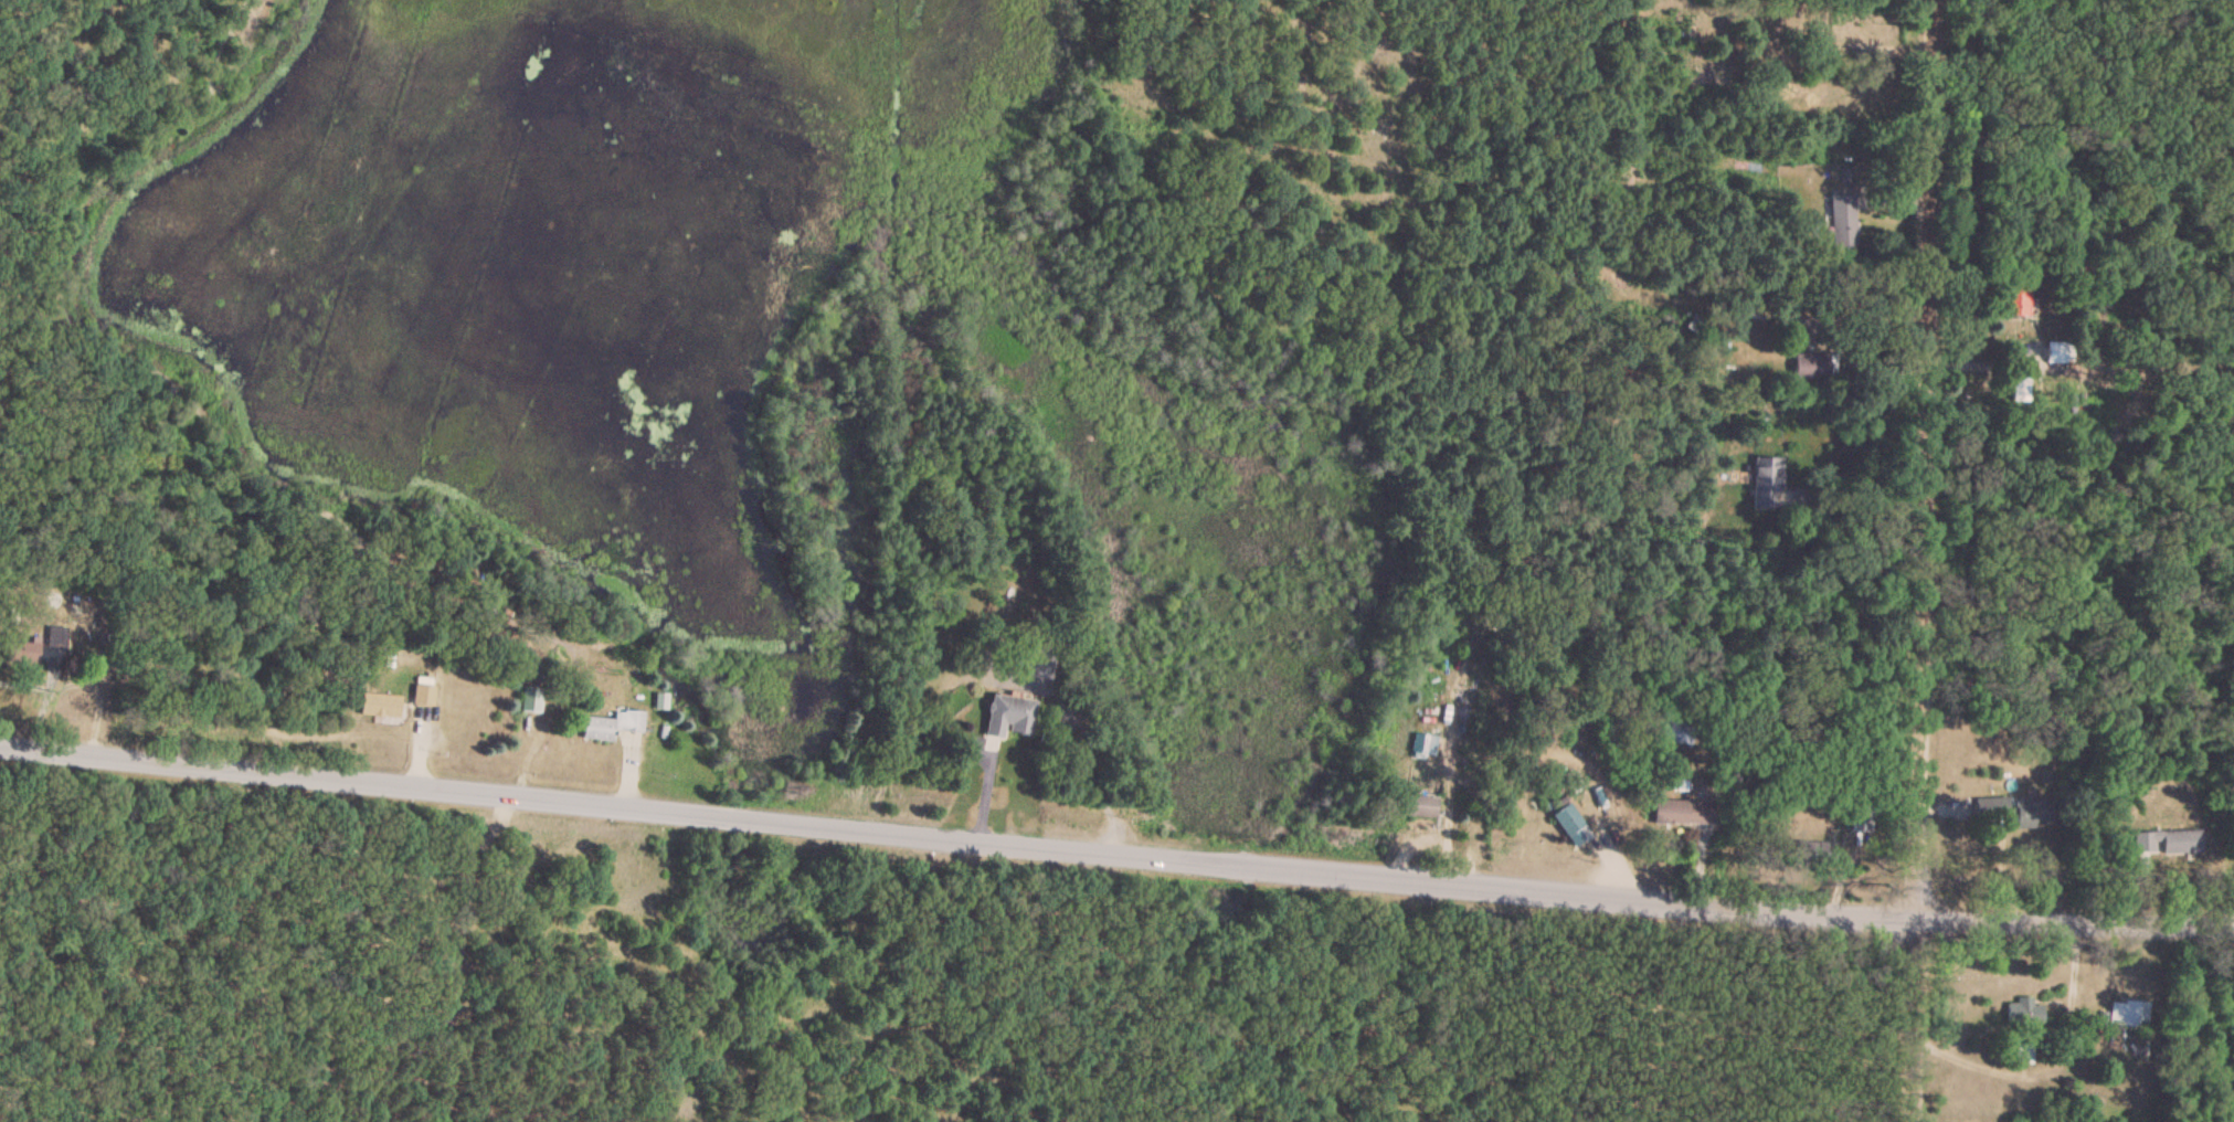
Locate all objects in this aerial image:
building: (1789, 83)
building: (1841, 224)
building: (2014, 300)
road: (2007, 358)
building: (1802, 369)
road: (1851, 468)
building: (1766, 486)
road: (1918, 561)
building: (59, 639)
building: (23, 655)
building: (422, 698)
building: (531, 702)
building: (379, 708)
building: (1006, 721)
building: (611, 729)
building: (1417, 809)
building: (1990, 809)
building: (2026, 814)
building: (1676, 815)
building: (1568, 829)
road: (1115, 845)
building: (1811, 854)
building: (2023, 1014)
building: (2126, 1015)
road: (1967, 1062)

